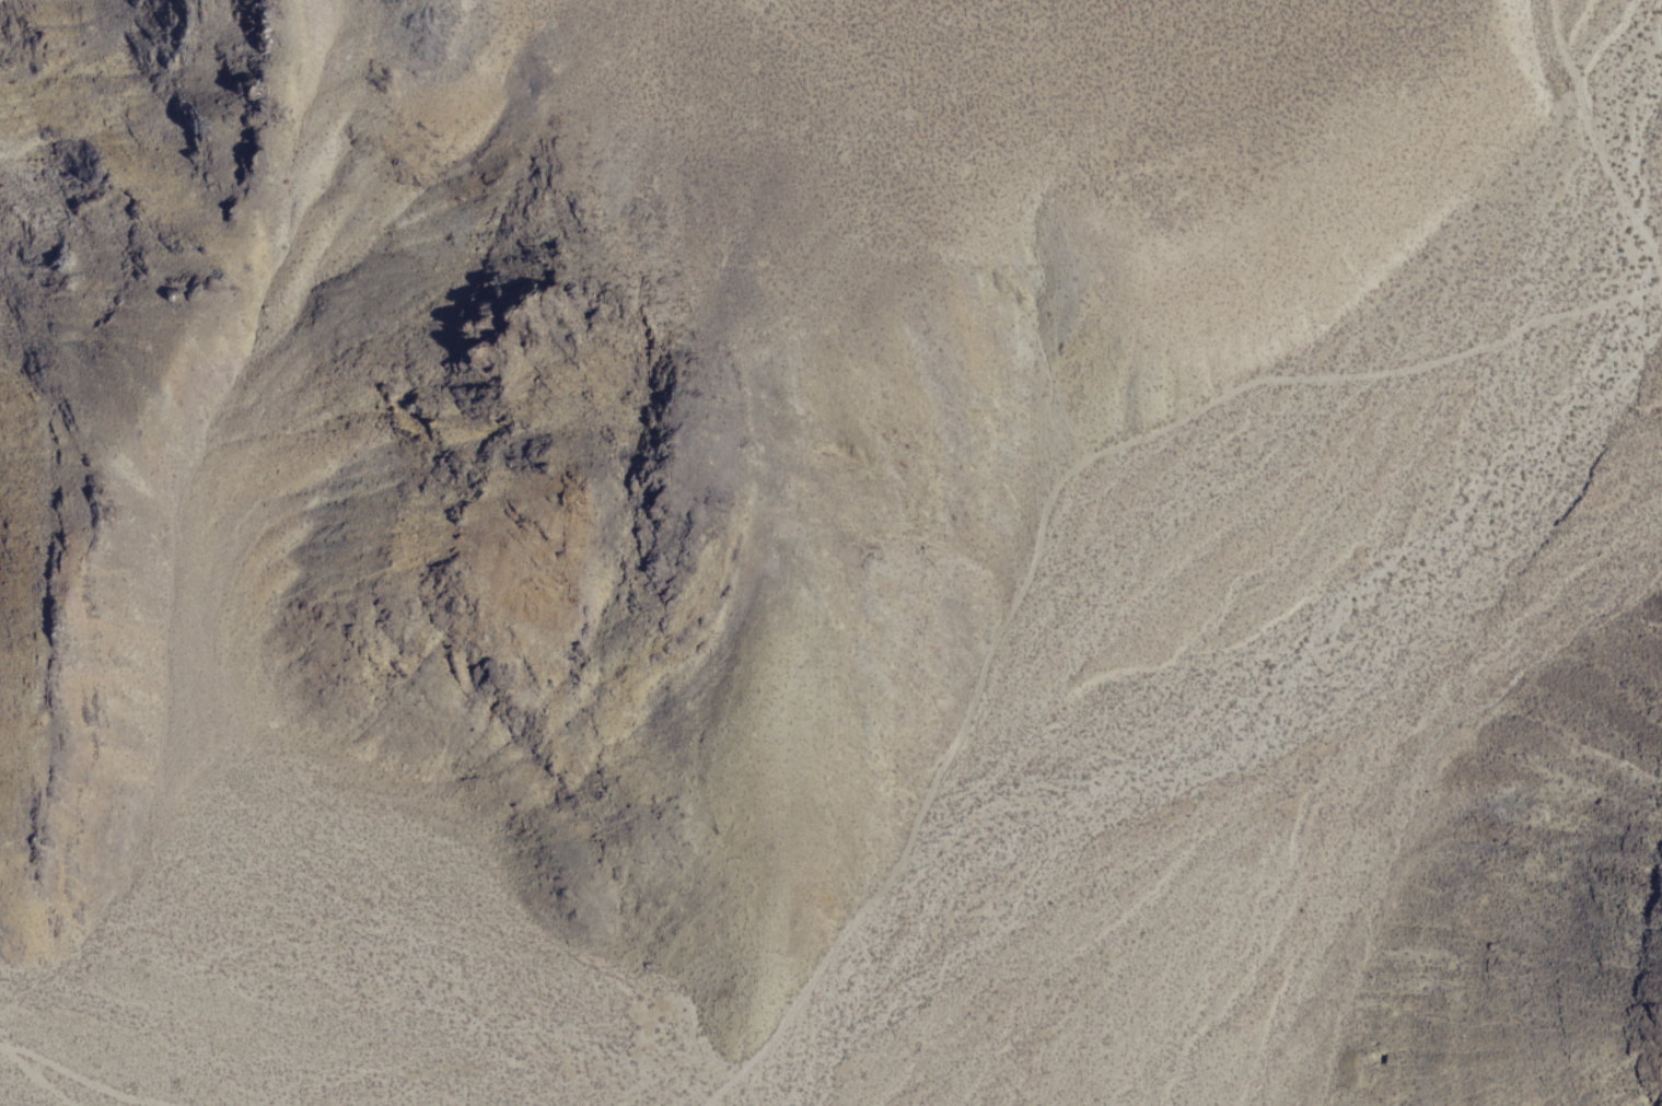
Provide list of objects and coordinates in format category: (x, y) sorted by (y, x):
road: (1601, 135)
road: (1467, 362)
road: (975, 713)
road: (75, 1076)

